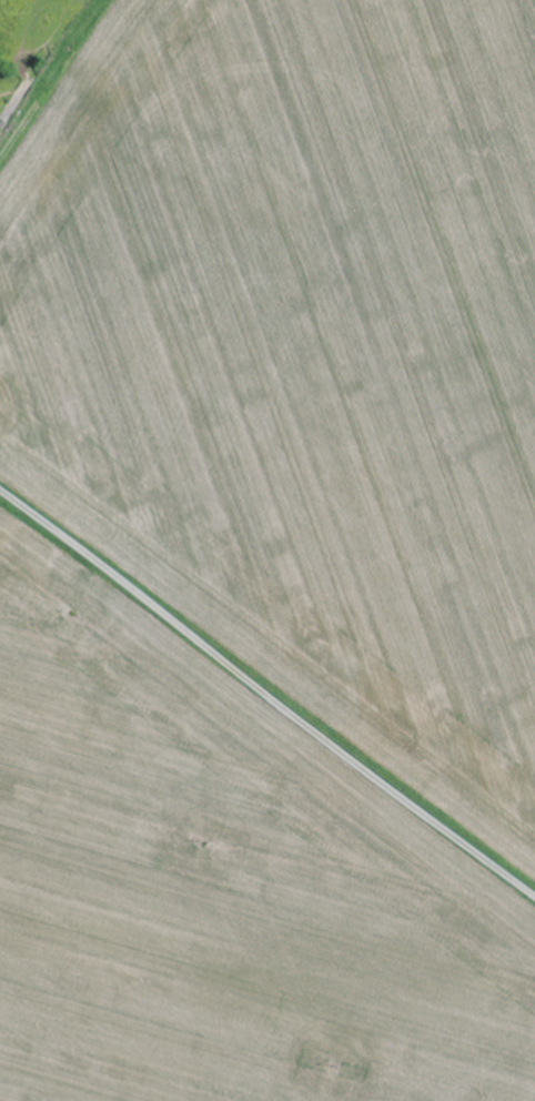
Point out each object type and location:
road: (267, 700)

